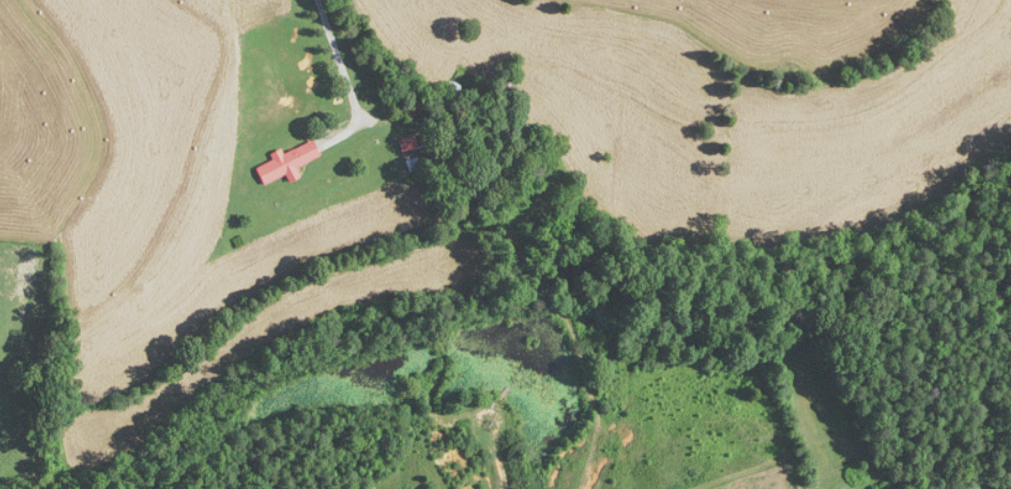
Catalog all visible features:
road: (337, 60)
building: (288, 162)
building: (413, 164)

